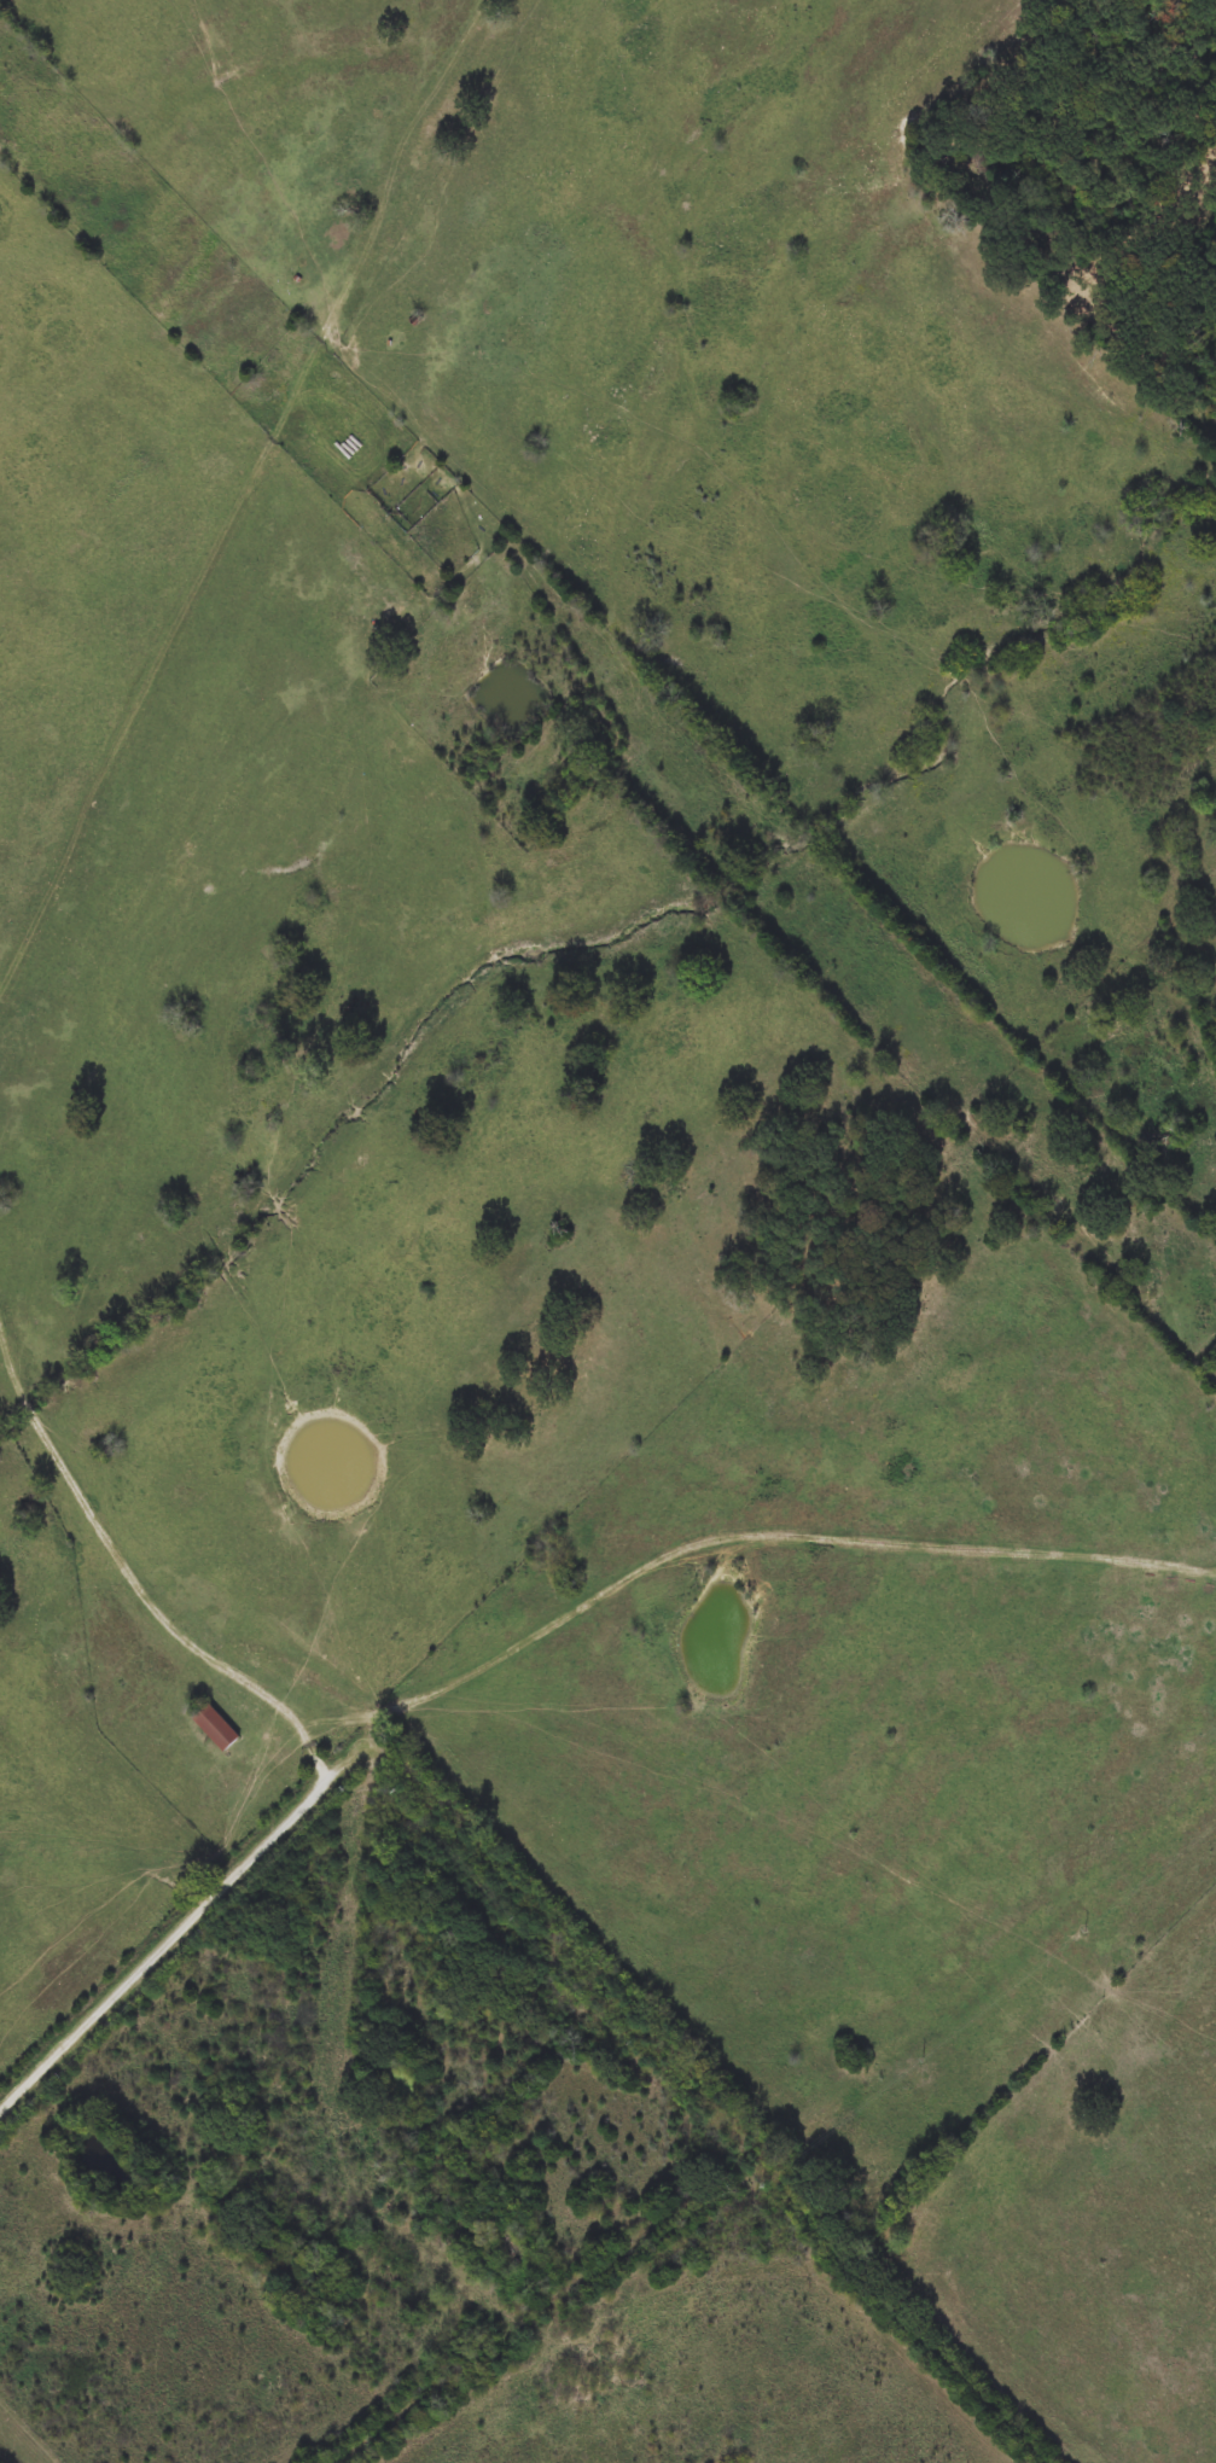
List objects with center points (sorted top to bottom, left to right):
road: (132, 1576)
building: (215, 1728)
road: (167, 1941)
road: (699, 2088)

